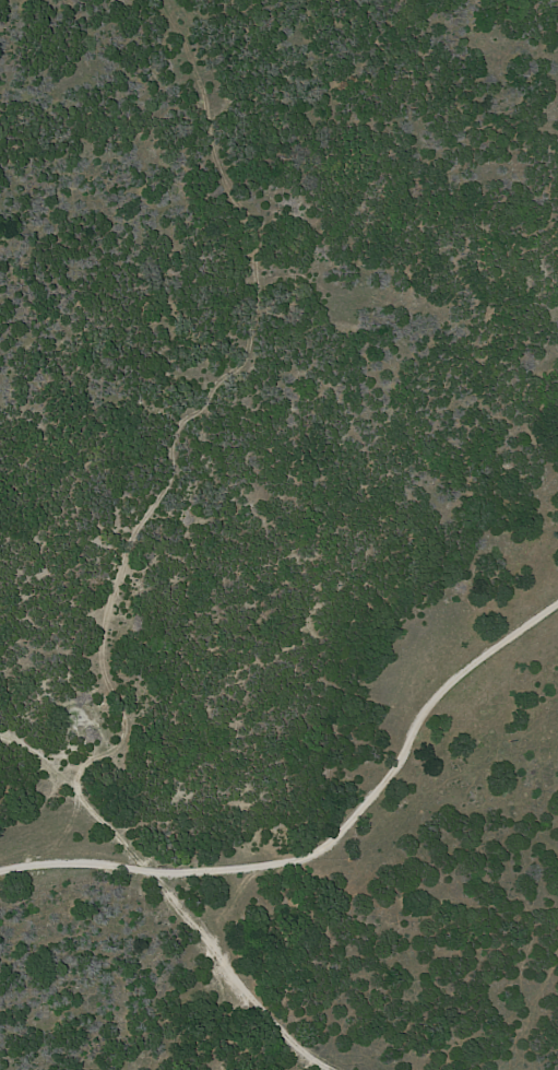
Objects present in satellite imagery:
road: (341, 854)
road: (162, 890)

